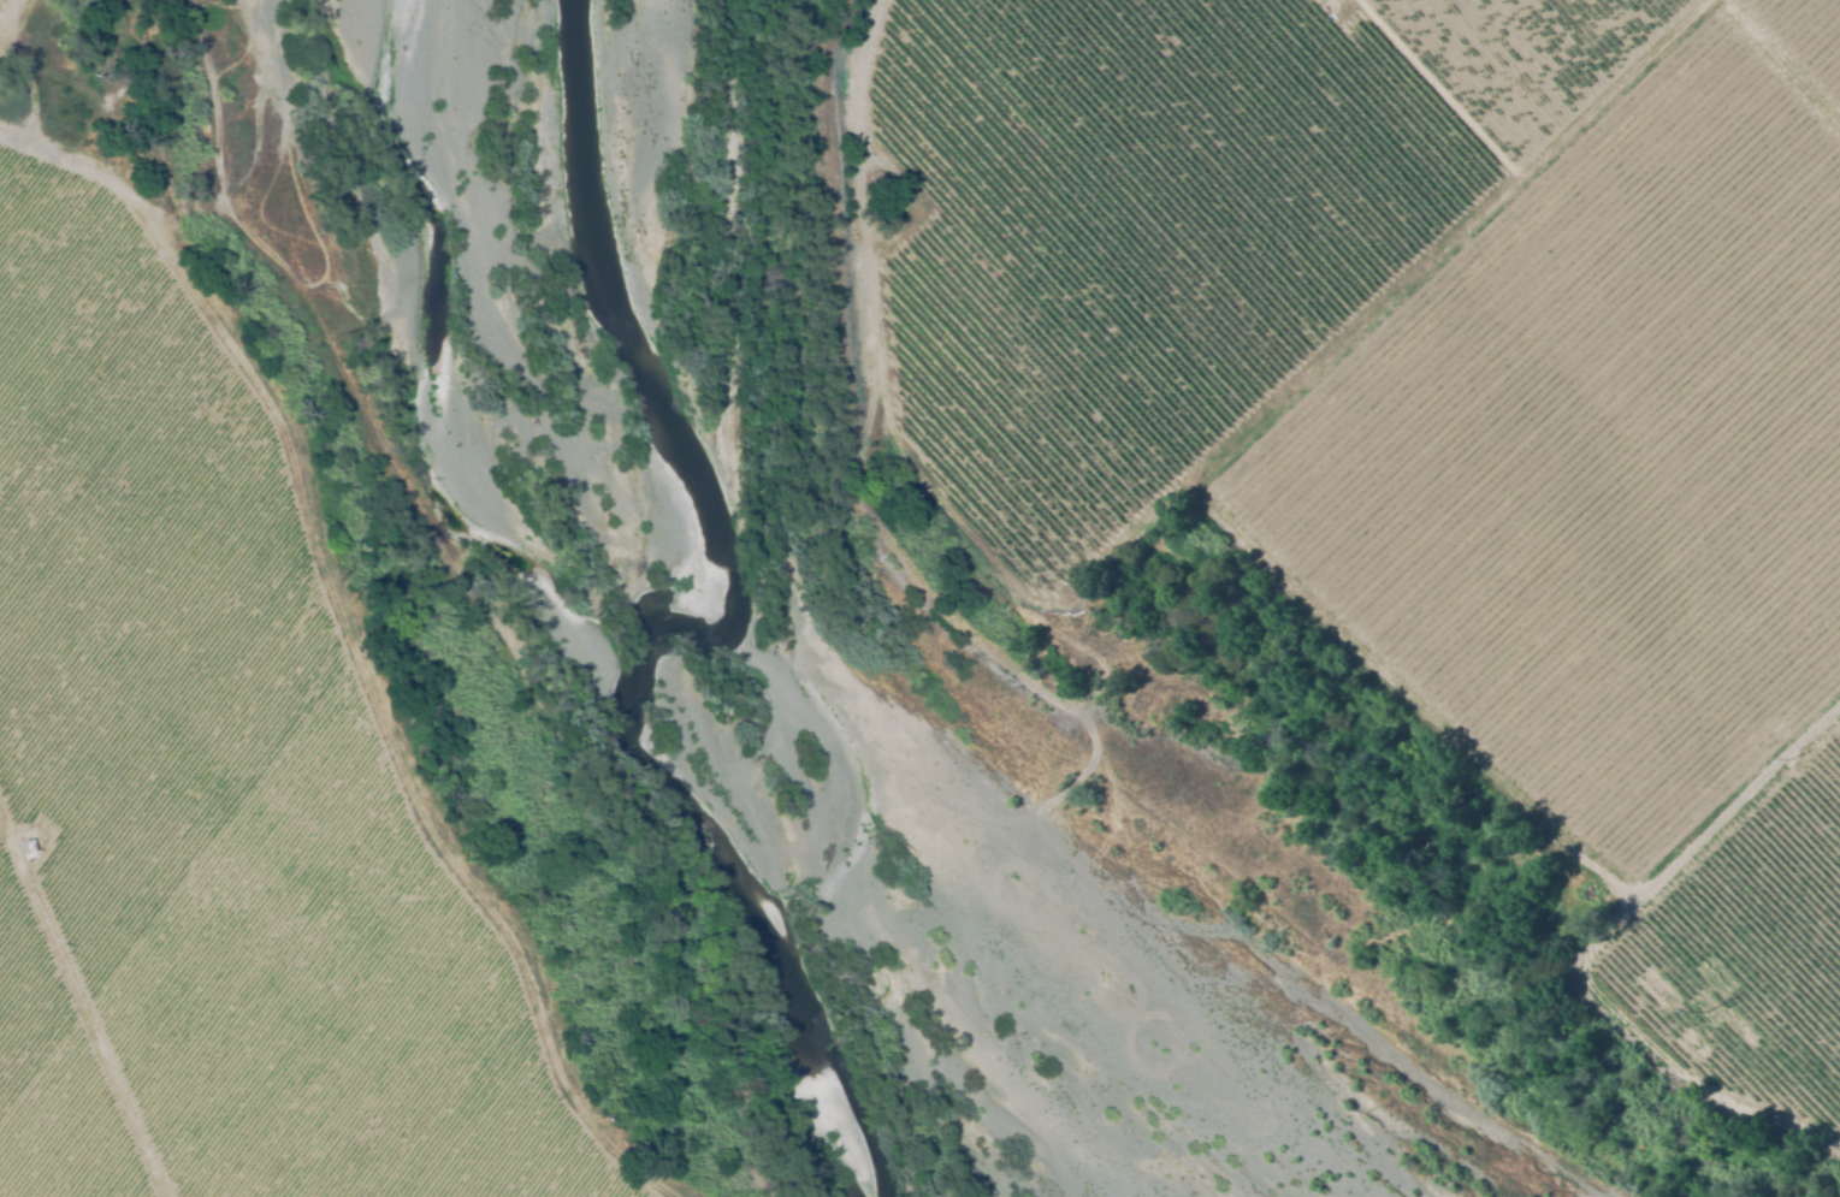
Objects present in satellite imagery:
road: (10, 13)
road: (42, 147)
road: (250, 158)
river: (566, 620)
road: (381, 681)
building: (25, 848)
road: (78, 1023)

